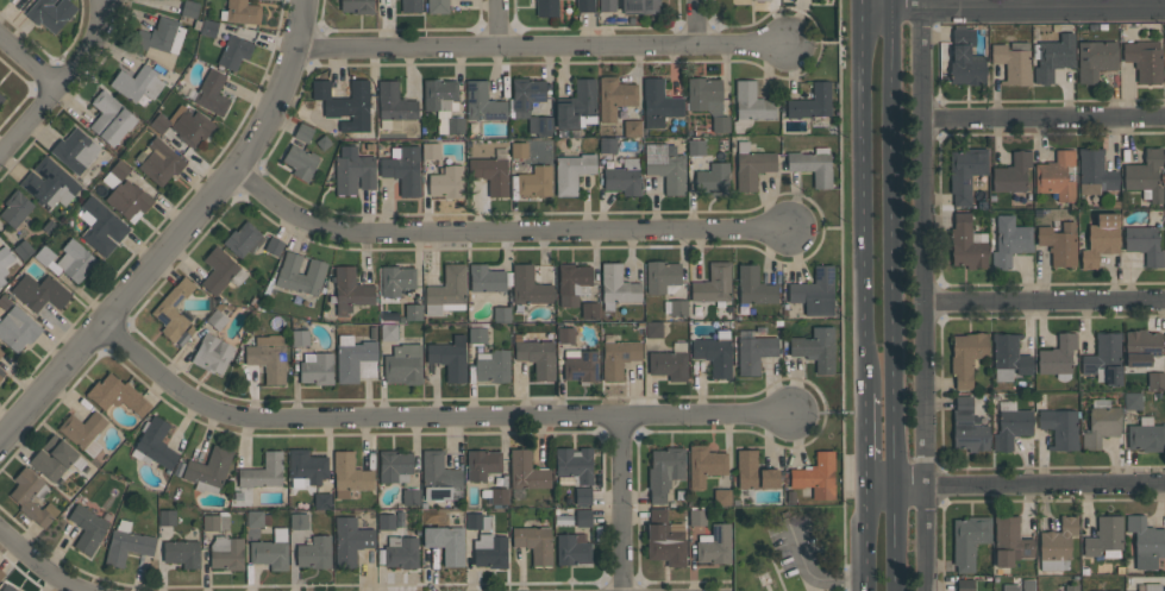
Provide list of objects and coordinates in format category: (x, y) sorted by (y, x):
building: (760, 0)
road: (1129, 2)
road: (863, 5)
building: (357, 6)
building: (411, 6)
building: (437, 6)
building: (584, 6)
building: (607, 6)
building: (641, 6)
building: (546, 7)
road: (1013, 7)
building: (189, 8)
building: (242, 12)
building: (50, 13)
road: (500, 20)
road: (706, 20)
building: (208, 29)
building: (1164, 33)
building: (159, 36)
road: (505, 42)
road: (747, 42)
road: (826, 43)
building: (231, 50)
building: (1053, 57)
building: (965, 58)
building: (1095, 59)
building: (1144, 59)
road: (27, 62)
building: (1011, 63)
road: (58, 80)
building: (137, 83)
building: (212, 93)
building: (438, 93)
building: (526, 94)
building: (614, 96)
building: (1, 98)
building: (707, 101)
building: (395, 102)
building: (482, 102)
building: (810, 102)
building: (658, 103)
building: (345, 105)
building: (576, 105)
building: (750, 105)
road: (1044, 118)
building: (109, 119)
building: (184, 125)
building: (455, 125)
building: (540, 125)
building: (632, 127)
building: (303, 133)
building: (608, 145)
building: (696, 147)
building: (75, 150)
building: (518, 150)
building: (430, 151)
building: (301, 162)
building: (159, 163)
building: (813, 163)
building: (752, 165)
building: (665, 166)
building: (119, 169)
building: (353, 170)
building: (403, 170)
building: (1094, 171)
building: (572, 172)
building: (1011, 172)
building: (965, 174)
building: (491, 175)
building: (1056, 176)
building: (1145, 176)
building: (622, 177)
building: (713, 180)
building: (534, 181)
building: (446, 182)
building: (50, 183)
building: (129, 199)
road: (864, 201)
building: (14, 208)
road: (828, 226)
building: (101, 227)
road: (503, 231)
road: (181, 234)
building: (244, 239)
building: (1100, 239)
building: (1009, 241)
building: (966, 244)
building: (1059, 244)
building: (1144, 244)
building: (274, 246)
building: (44, 254)
building: (75, 260)
building: (4, 262)
building: (220, 271)
building: (300, 275)
building: (660, 276)
building: (486, 278)
building: (396, 279)
building: (572, 283)
building: (714, 283)
building: (618, 285)
building: (753, 285)
building: (528, 287)
building: (39, 291)
building: (350, 291)
building: (446, 291)
building: (814, 293)
road: (896, 295)
road: (925, 298)
building: (4, 302)
road: (1045, 302)
building: (677, 307)
building: (175, 312)
building: (413, 312)
building: (589, 312)
building: (501, 314)
building: (215, 320)
building: (18, 329)
building: (653, 329)
building: (388, 333)
building: (476, 335)
building: (565, 335)
building: (300, 338)
building: (1140, 347)
building: (815, 348)
building: (1, 352)
building: (212, 353)
building: (753, 353)
building: (714, 356)
building: (1057, 356)
building: (268, 357)
building: (537, 357)
building: (618, 357)
building: (966, 357)
building: (1007, 357)
building: (449, 358)
building: (1104, 358)
building: (355, 359)
building: (668, 364)
building: (403, 365)
building: (493, 366)
building: (581, 366)
building: (317, 369)
building: (0, 377)
building: (1155, 381)
building: (117, 395)
building: (1132, 401)
road: (828, 413)
road: (430, 421)
building: (1101, 423)
building: (967, 426)
building: (1011, 427)
building: (1059, 427)
building: (82, 428)
building: (1146, 438)
road: (868, 440)
building: (156, 442)
building: (52, 458)
building: (393, 464)
building: (482, 464)
building: (575, 464)
building: (704, 465)
building: (307, 466)
building: (208, 470)
building: (263, 471)
building: (526, 471)
building: (664, 471)
building: (753, 472)
building: (349, 474)
building: (816, 476)
building: (439, 478)
road: (1016, 483)
building: (499, 496)
building: (582, 496)
building: (721, 496)
building: (21, 497)
building: (411, 497)
building: (322, 501)
road: (621, 504)
building: (167, 517)
building: (583, 517)
building: (697, 517)
building: (255, 518)
building: (297, 521)
building: (386, 521)
building: (474, 521)
building: (211, 522)
building: (87, 528)
building: (1104, 535)
building: (664, 539)
road: (869, 539)
building: (350, 541)
building: (967, 541)
building: (1010, 541)
building: (1145, 542)
building: (446, 543)
building: (534, 543)
building: (1057, 543)
building: (715, 546)
building: (127, 547)
building: (572, 549)
building: (271, 551)
building: (489, 551)
building: (315, 552)
building: (401, 552)
building: (182, 553)
building: (226, 553)
road: (40, 562)
building: (1, 573)
road: (813, 574)
building: (965, 585)
building: (1028, 585)
building: (1010, 586)
building: (1152, 586)
building: (7, 587)
building: (1071, 587)
building: (1108, 590)

